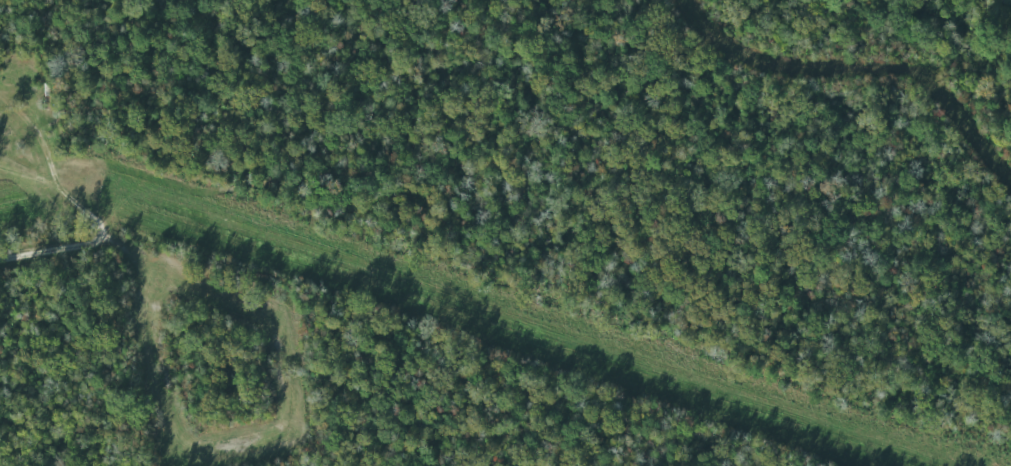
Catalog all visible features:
road: (52, 249)

